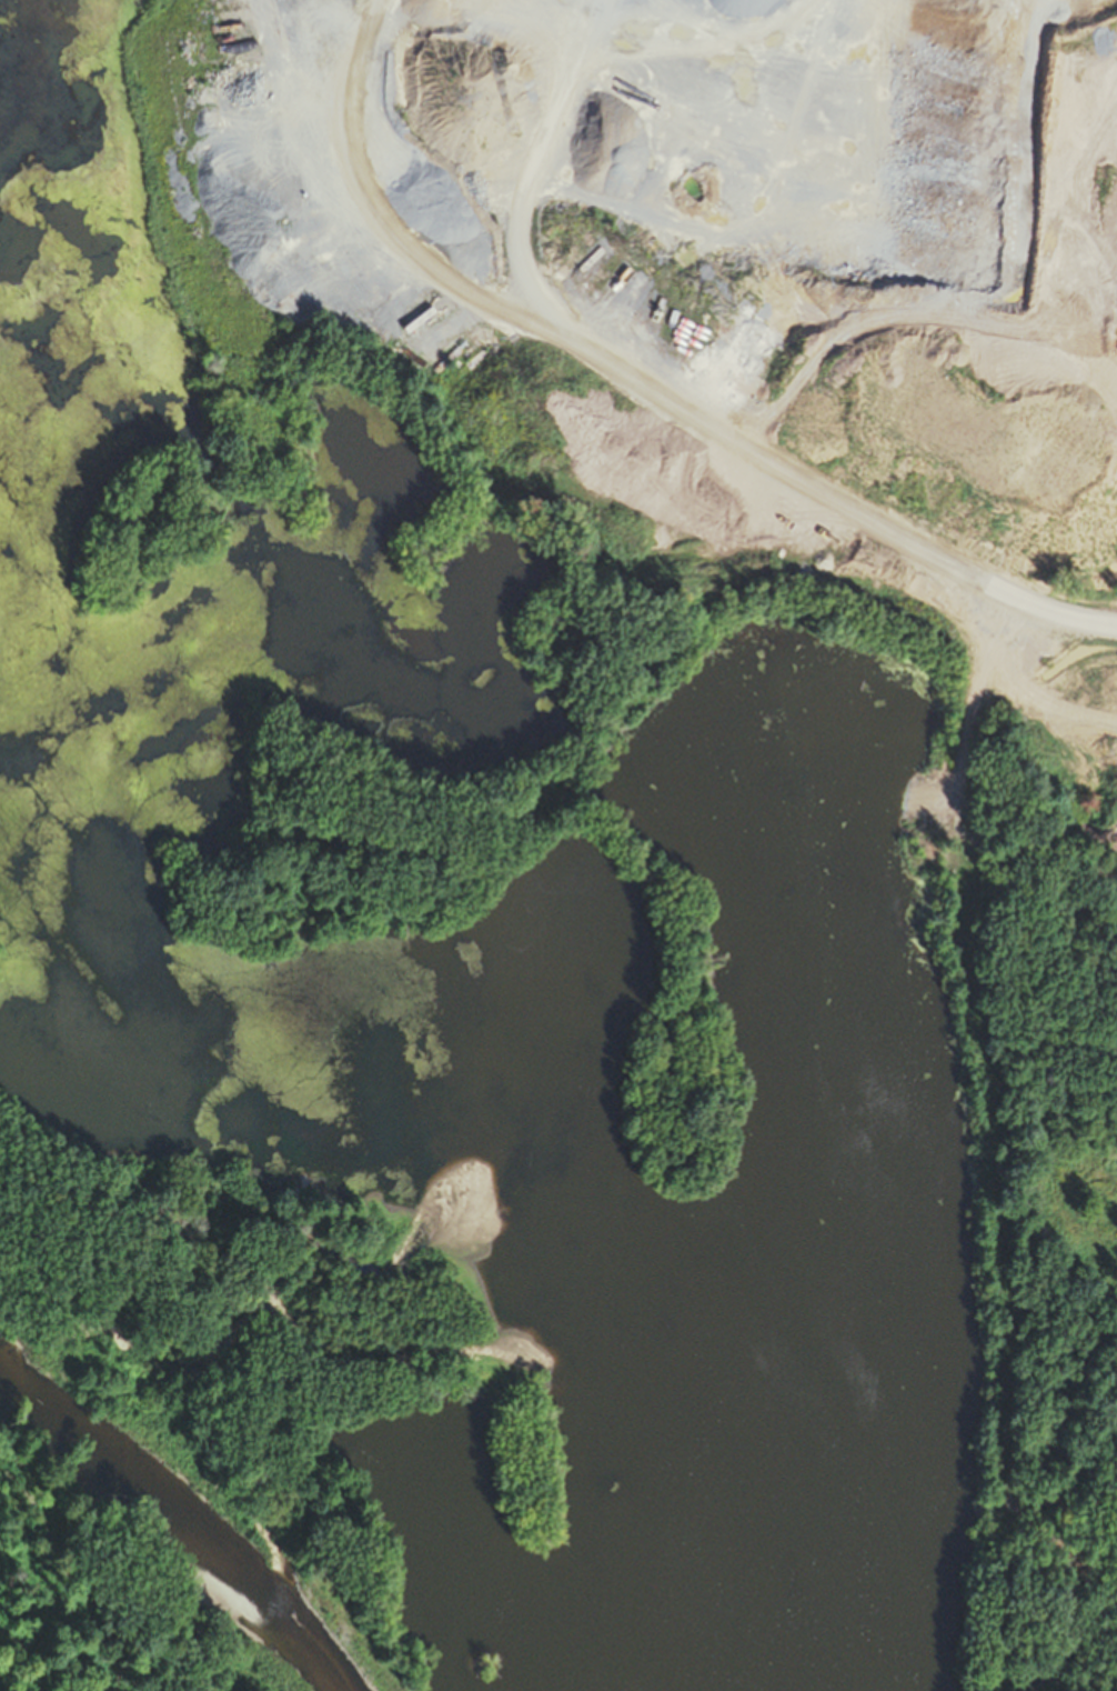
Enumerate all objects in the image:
building: (1050, 129)
building: (969, 158)
quarry: (575, 821)
river: (98, 1499)

